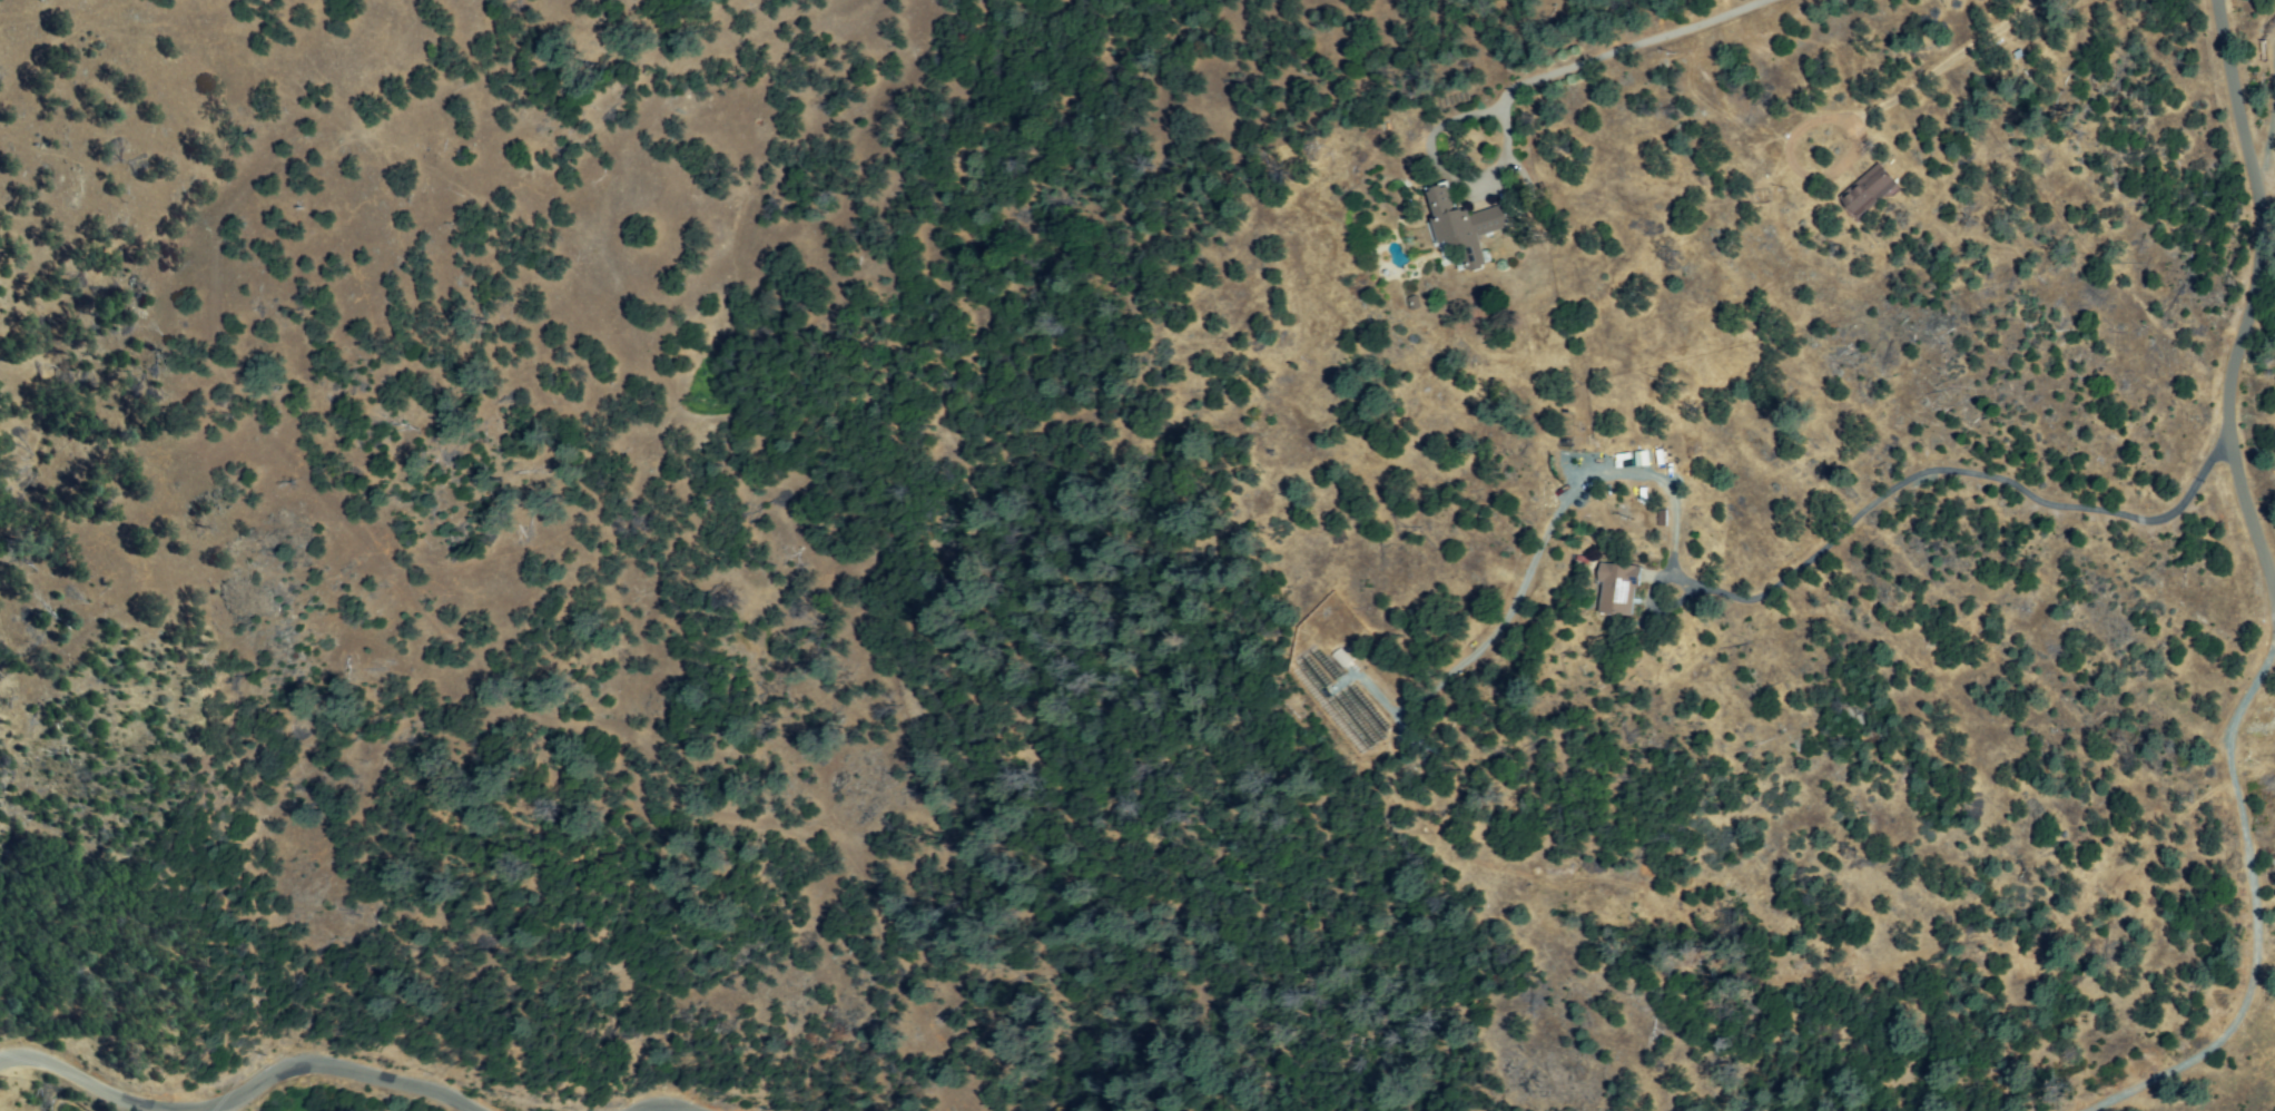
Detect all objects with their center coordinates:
road: (1594, 53)
building: (1868, 191)
building: (1462, 230)
road: (2252, 298)
road: (1783, 580)
building: (1617, 588)
road: (2254, 905)
road: (239, 1097)
road: (660, 1105)

